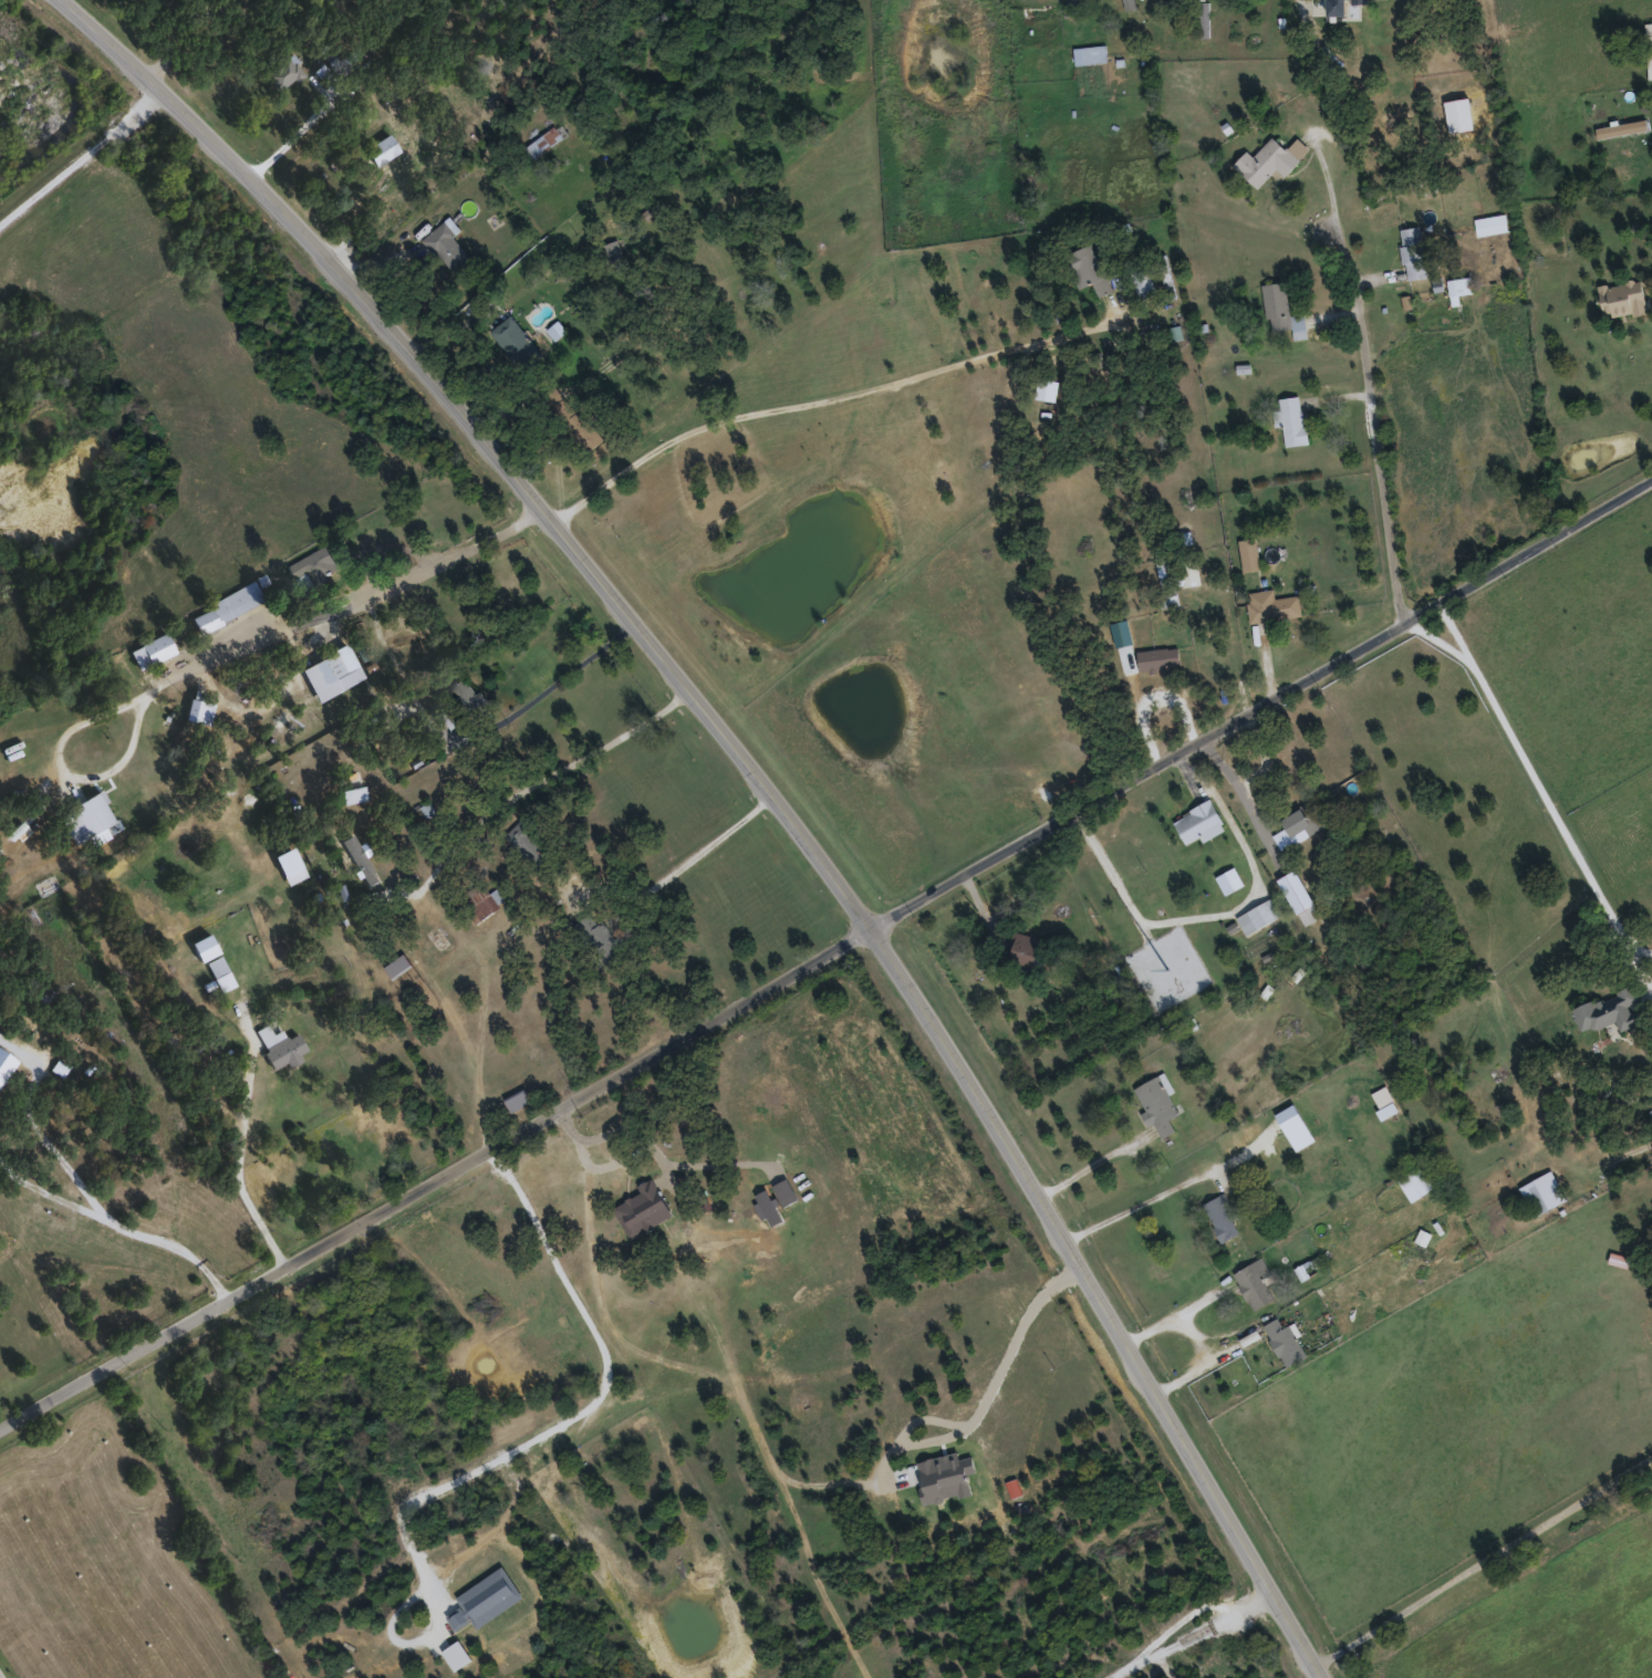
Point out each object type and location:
building: (1180, 0)
building: (1201, 18)
road: (1315, 38)
road: (177, 39)
building: (1378, 41)
building: (1648, 49)
building: (282, 73)
building: (1621, 127)
road: (290, 136)
building: (546, 138)
building: (383, 157)
building: (1270, 159)
road: (82, 160)
road: (1334, 175)
building: (1490, 223)
building: (446, 243)
building: (1412, 251)
building: (1088, 268)
building: (1143, 283)
building: (1459, 285)
building: (1622, 298)
building: (1281, 310)
road: (829, 397)
building: (1291, 418)
road: (1381, 421)
building: (1249, 552)
building: (313, 566)
building: (1187, 567)
building: (1167, 580)
road: (824, 593)
building: (1272, 604)
building: (225, 606)
building: (150, 650)
road: (225, 650)
building: (1159, 657)
building: (331, 671)
road: (552, 680)
building: (458, 701)
road: (1535, 774)
road: (543, 778)
road: (760, 782)
building: (350, 783)
road: (1244, 793)
building: (1302, 820)
building: (1198, 822)
road: (610, 832)
road: (709, 845)
building: (359, 855)
building: (481, 900)
road: (1219, 914)
building: (1258, 915)
building: (1022, 950)
road: (1639, 950)
road: (825, 957)
road: (1640, 967)
building: (222, 980)
building: (1607, 1010)
building: (280, 1045)
building: (4, 1056)
building: (1156, 1104)
building: (1393, 1114)
building: (1295, 1125)
road: (621, 1129)
road: (1094, 1161)
road: (242, 1166)
building: (1417, 1179)
building: (1532, 1197)
road: (1140, 1207)
building: (1220, 1216)
road: (124, 1221)
building: (627, 1224)
building: (1619, 1259)
building: (1309, 1267)
building: (1255, 1282)
road: (1175, 1317)
building: (1284, 1340)
road: (1012, 1349)
road: (1207, 1359)
road: (523, 1446)
road: (1483, 1561)
road: (1191, 1635)
road: (4, 1669)

